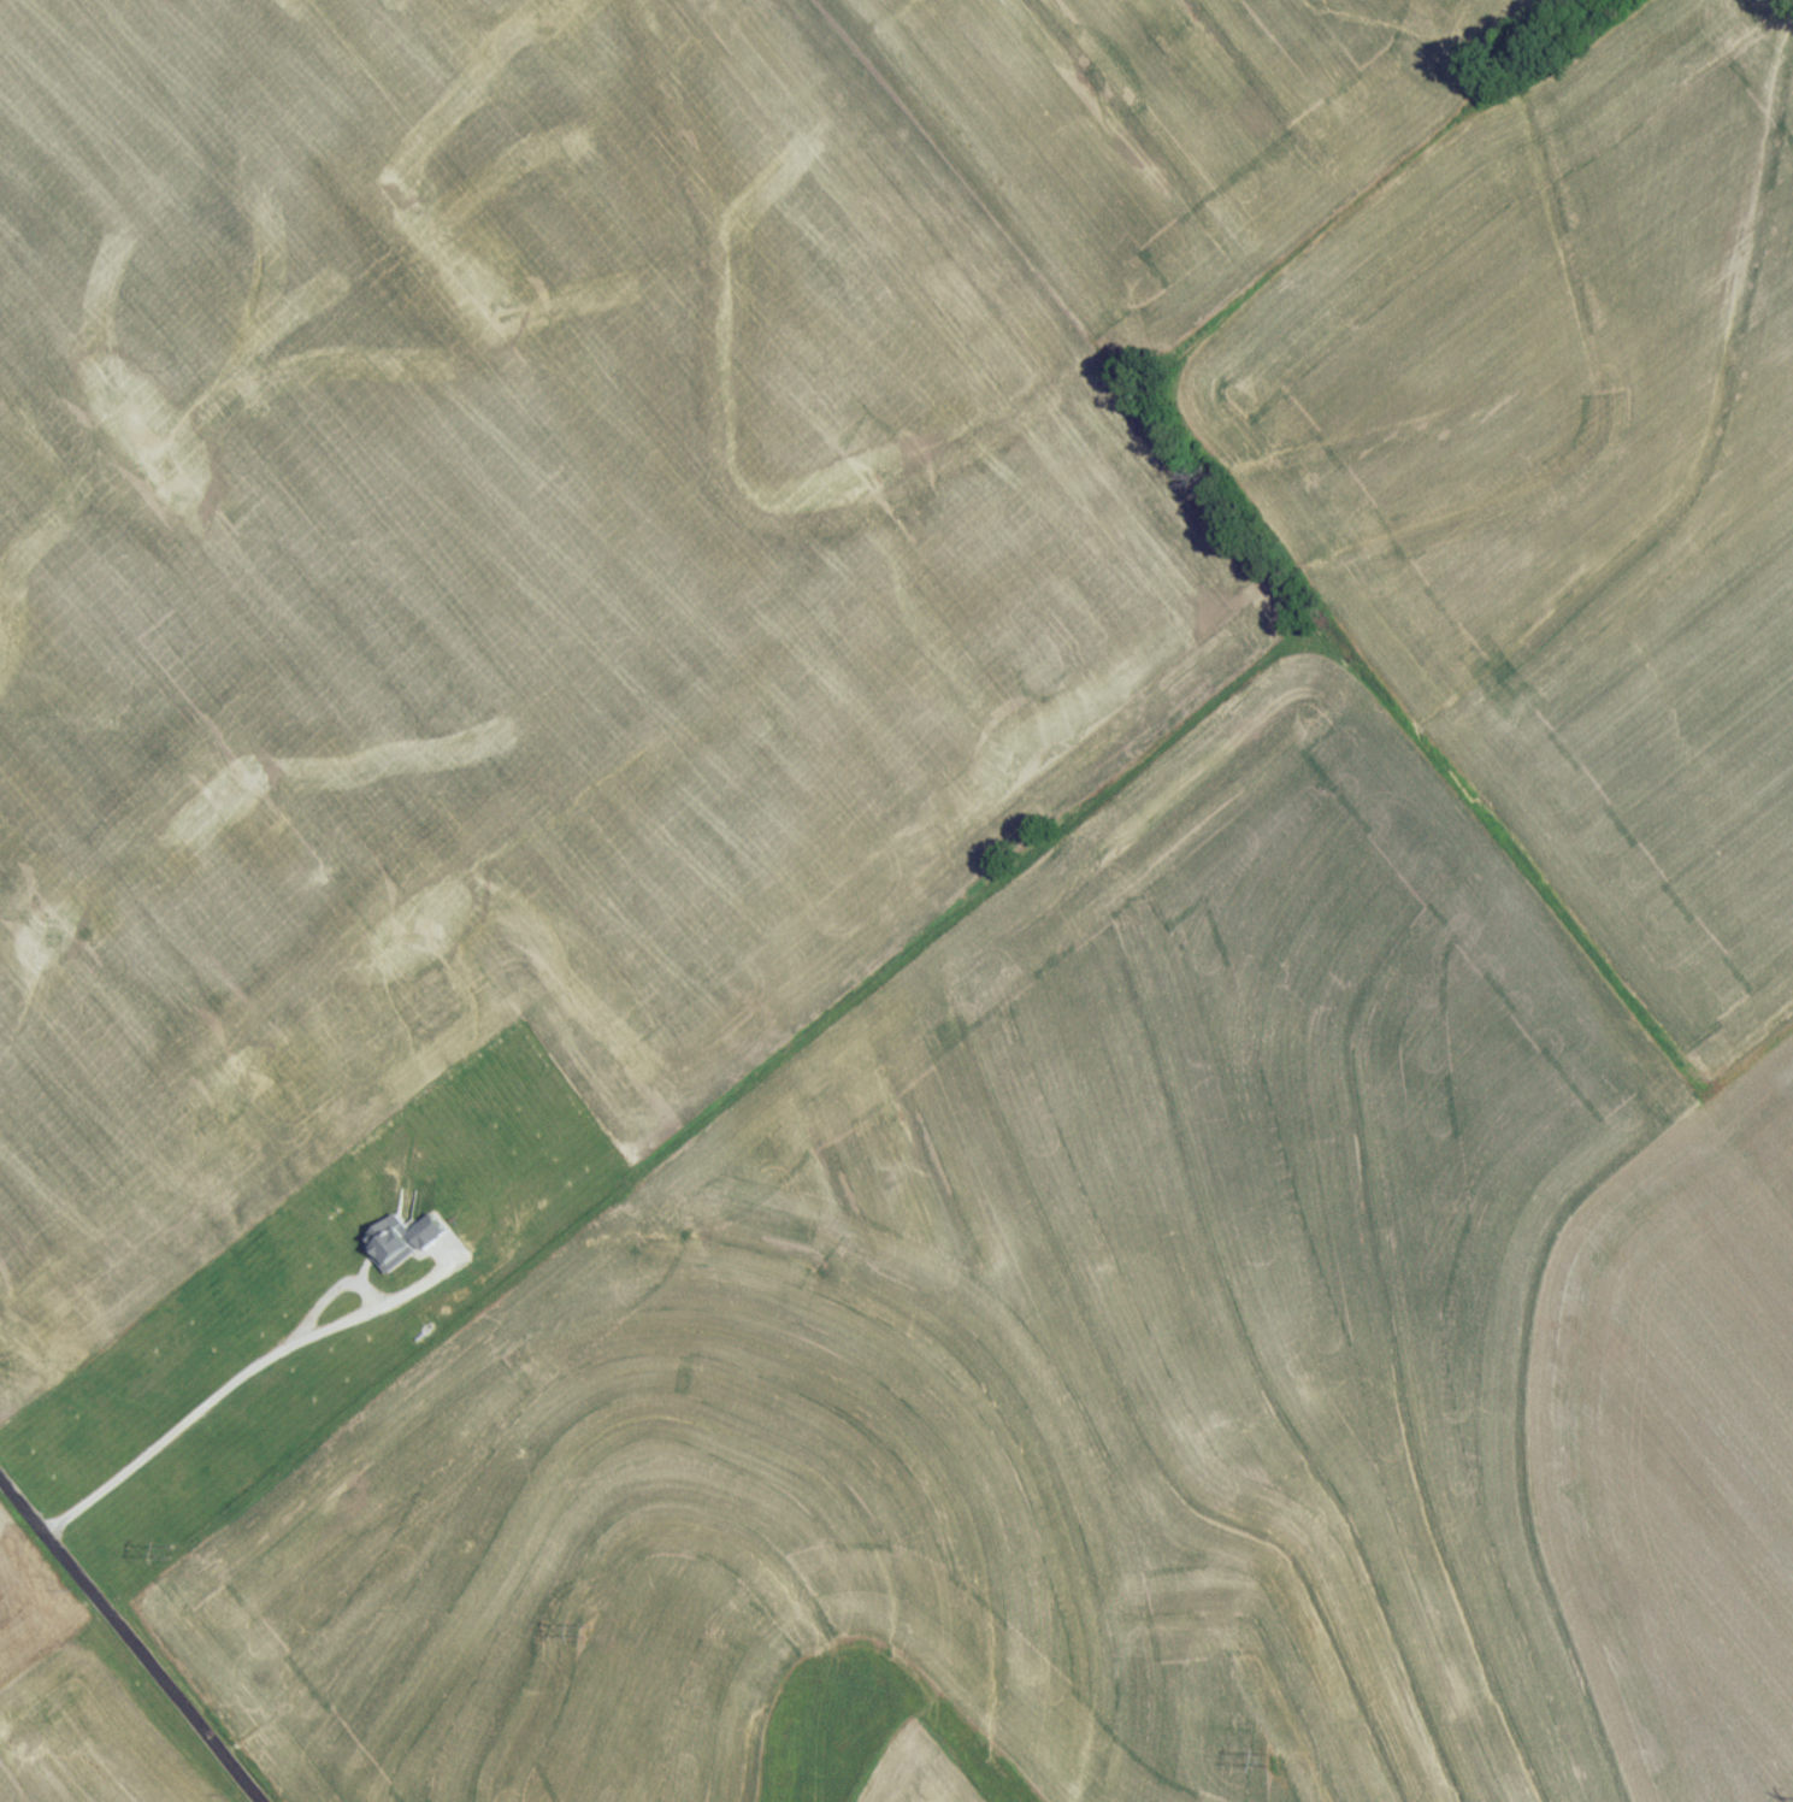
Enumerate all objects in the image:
road: (334, 1292)
road: (242, 1379)
road: (130, 1639)

